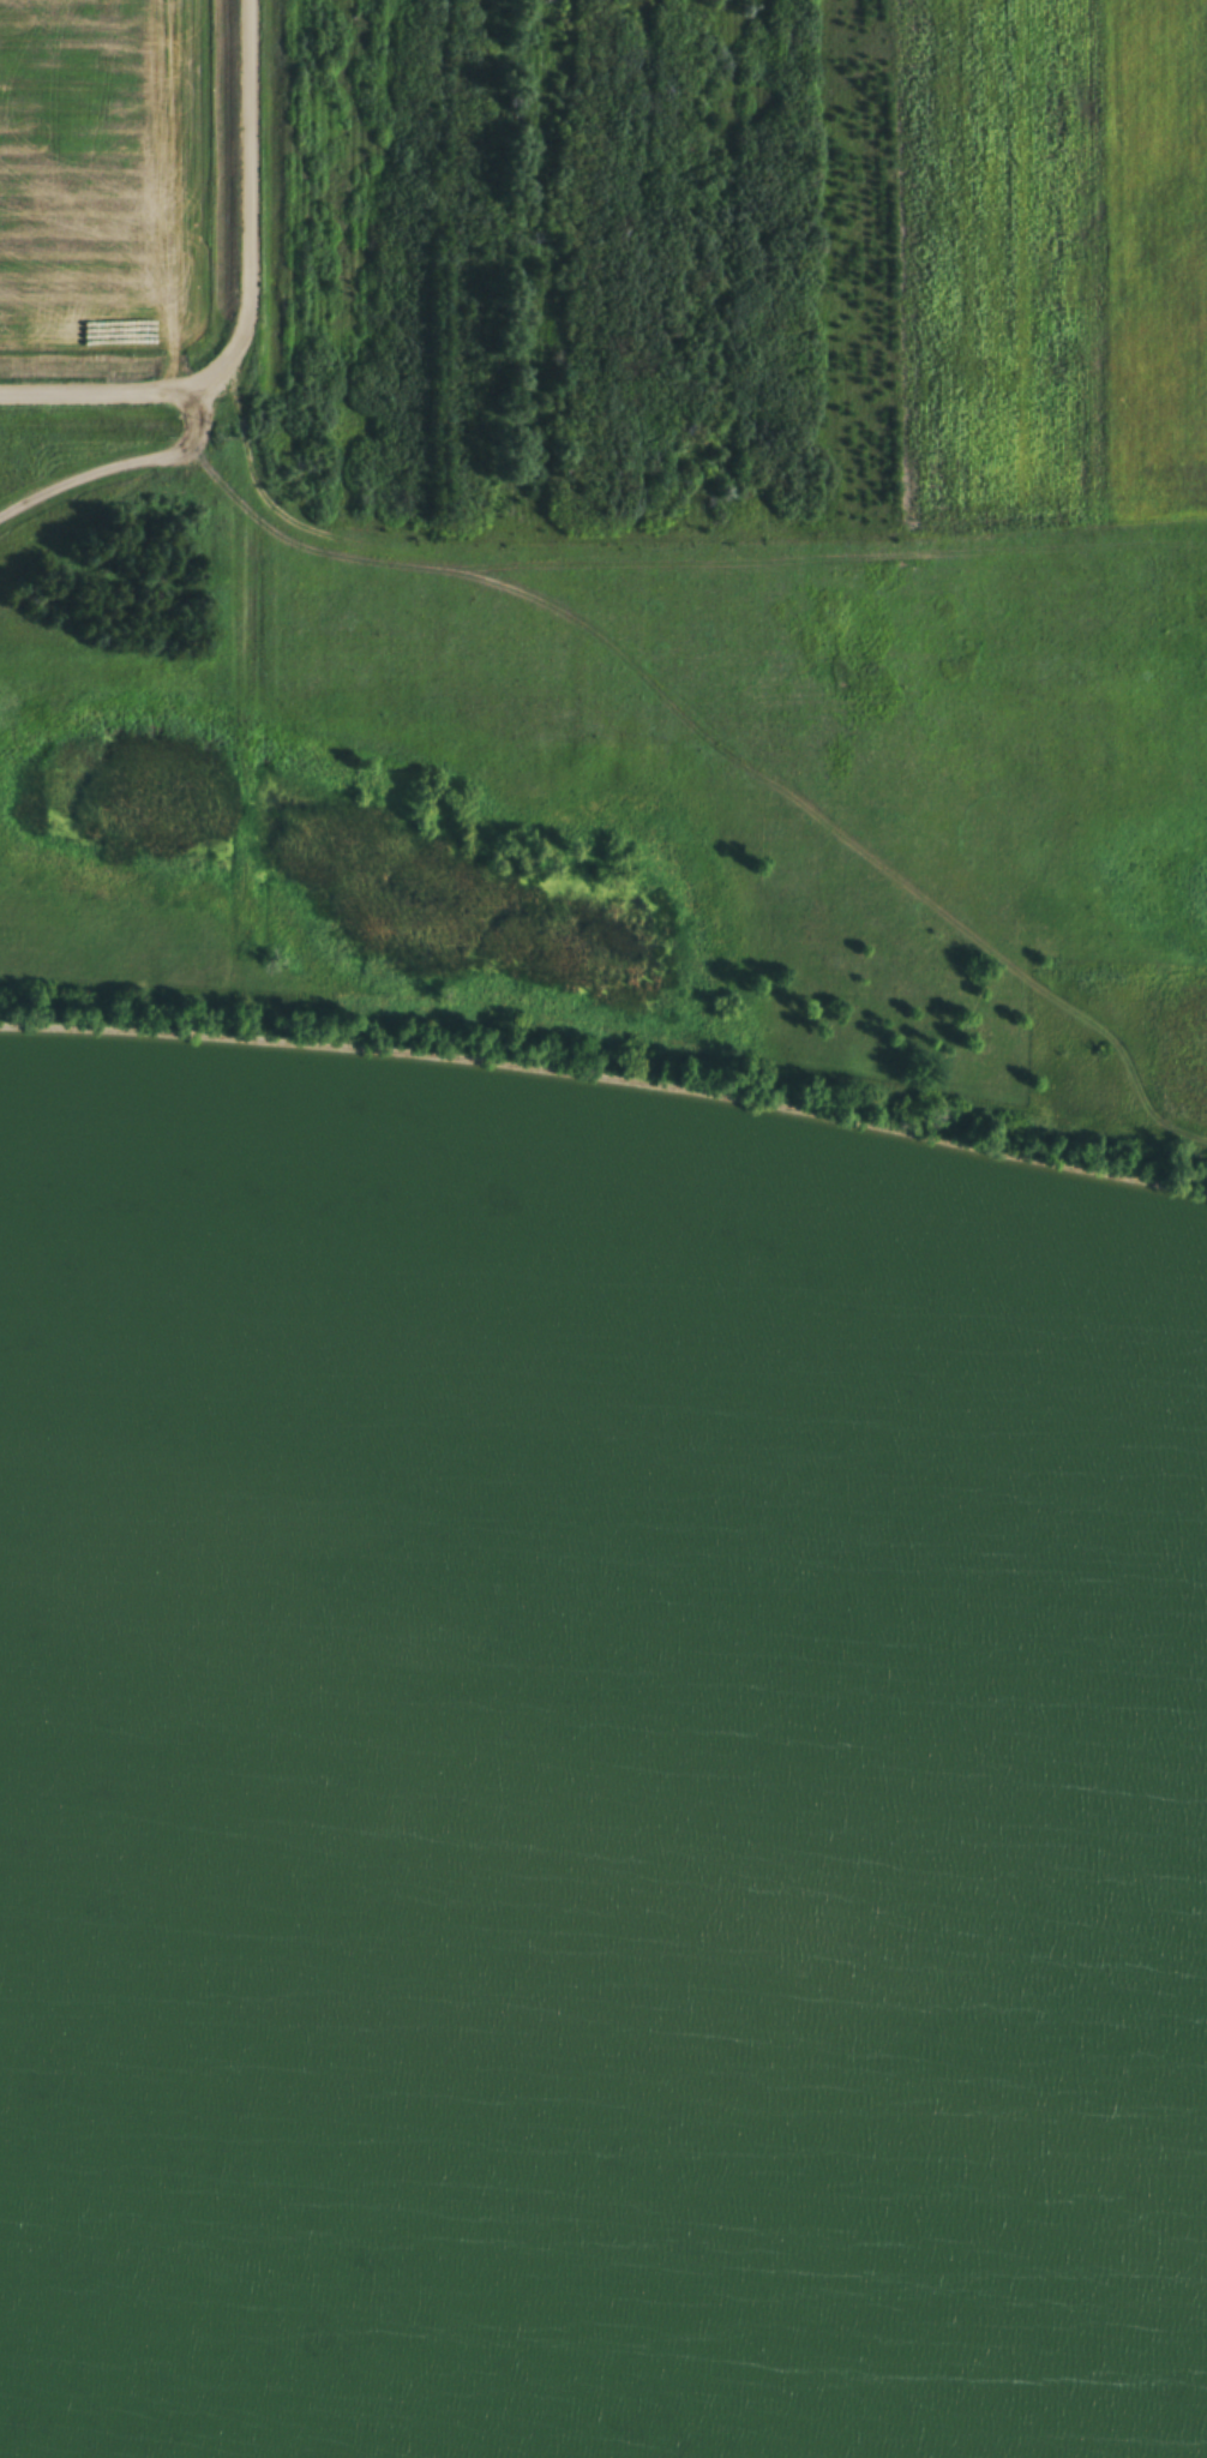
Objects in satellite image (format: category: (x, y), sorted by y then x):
road: (256, 181)
road: (122, 391)
road: (128, 461)

